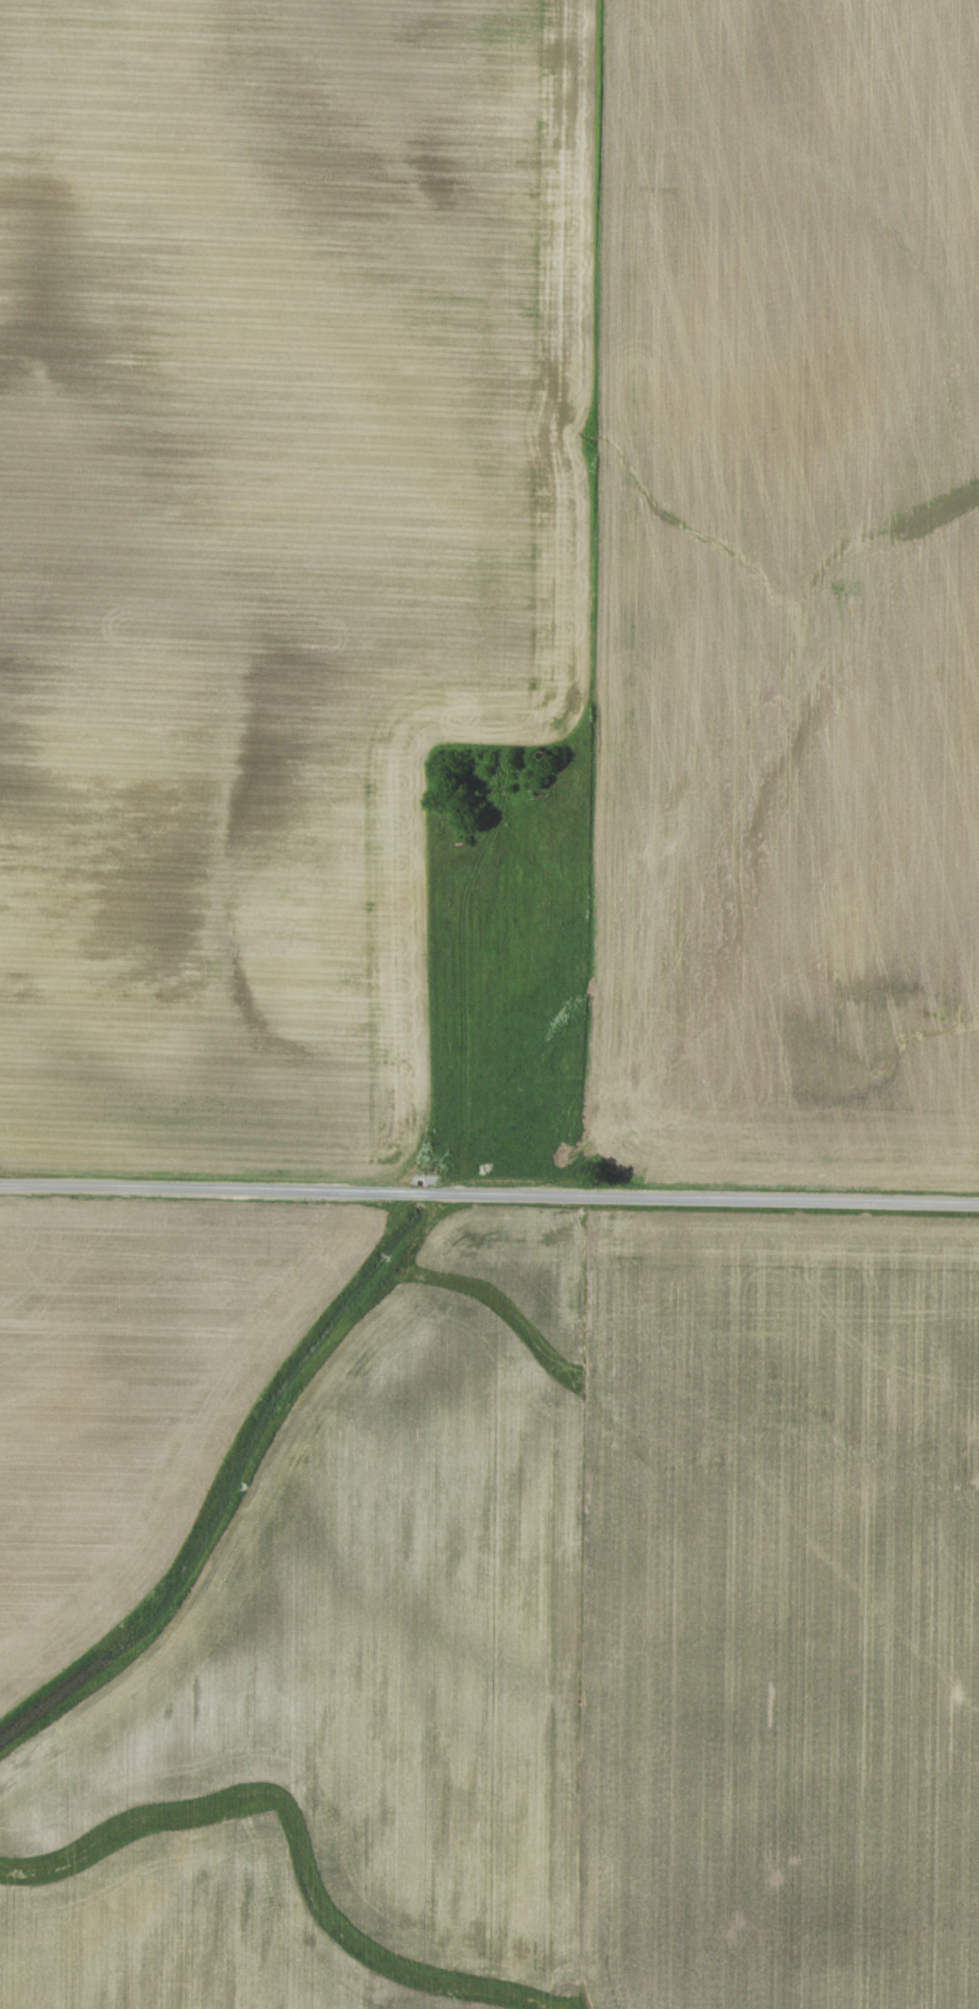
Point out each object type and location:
road: (489, 1196)

